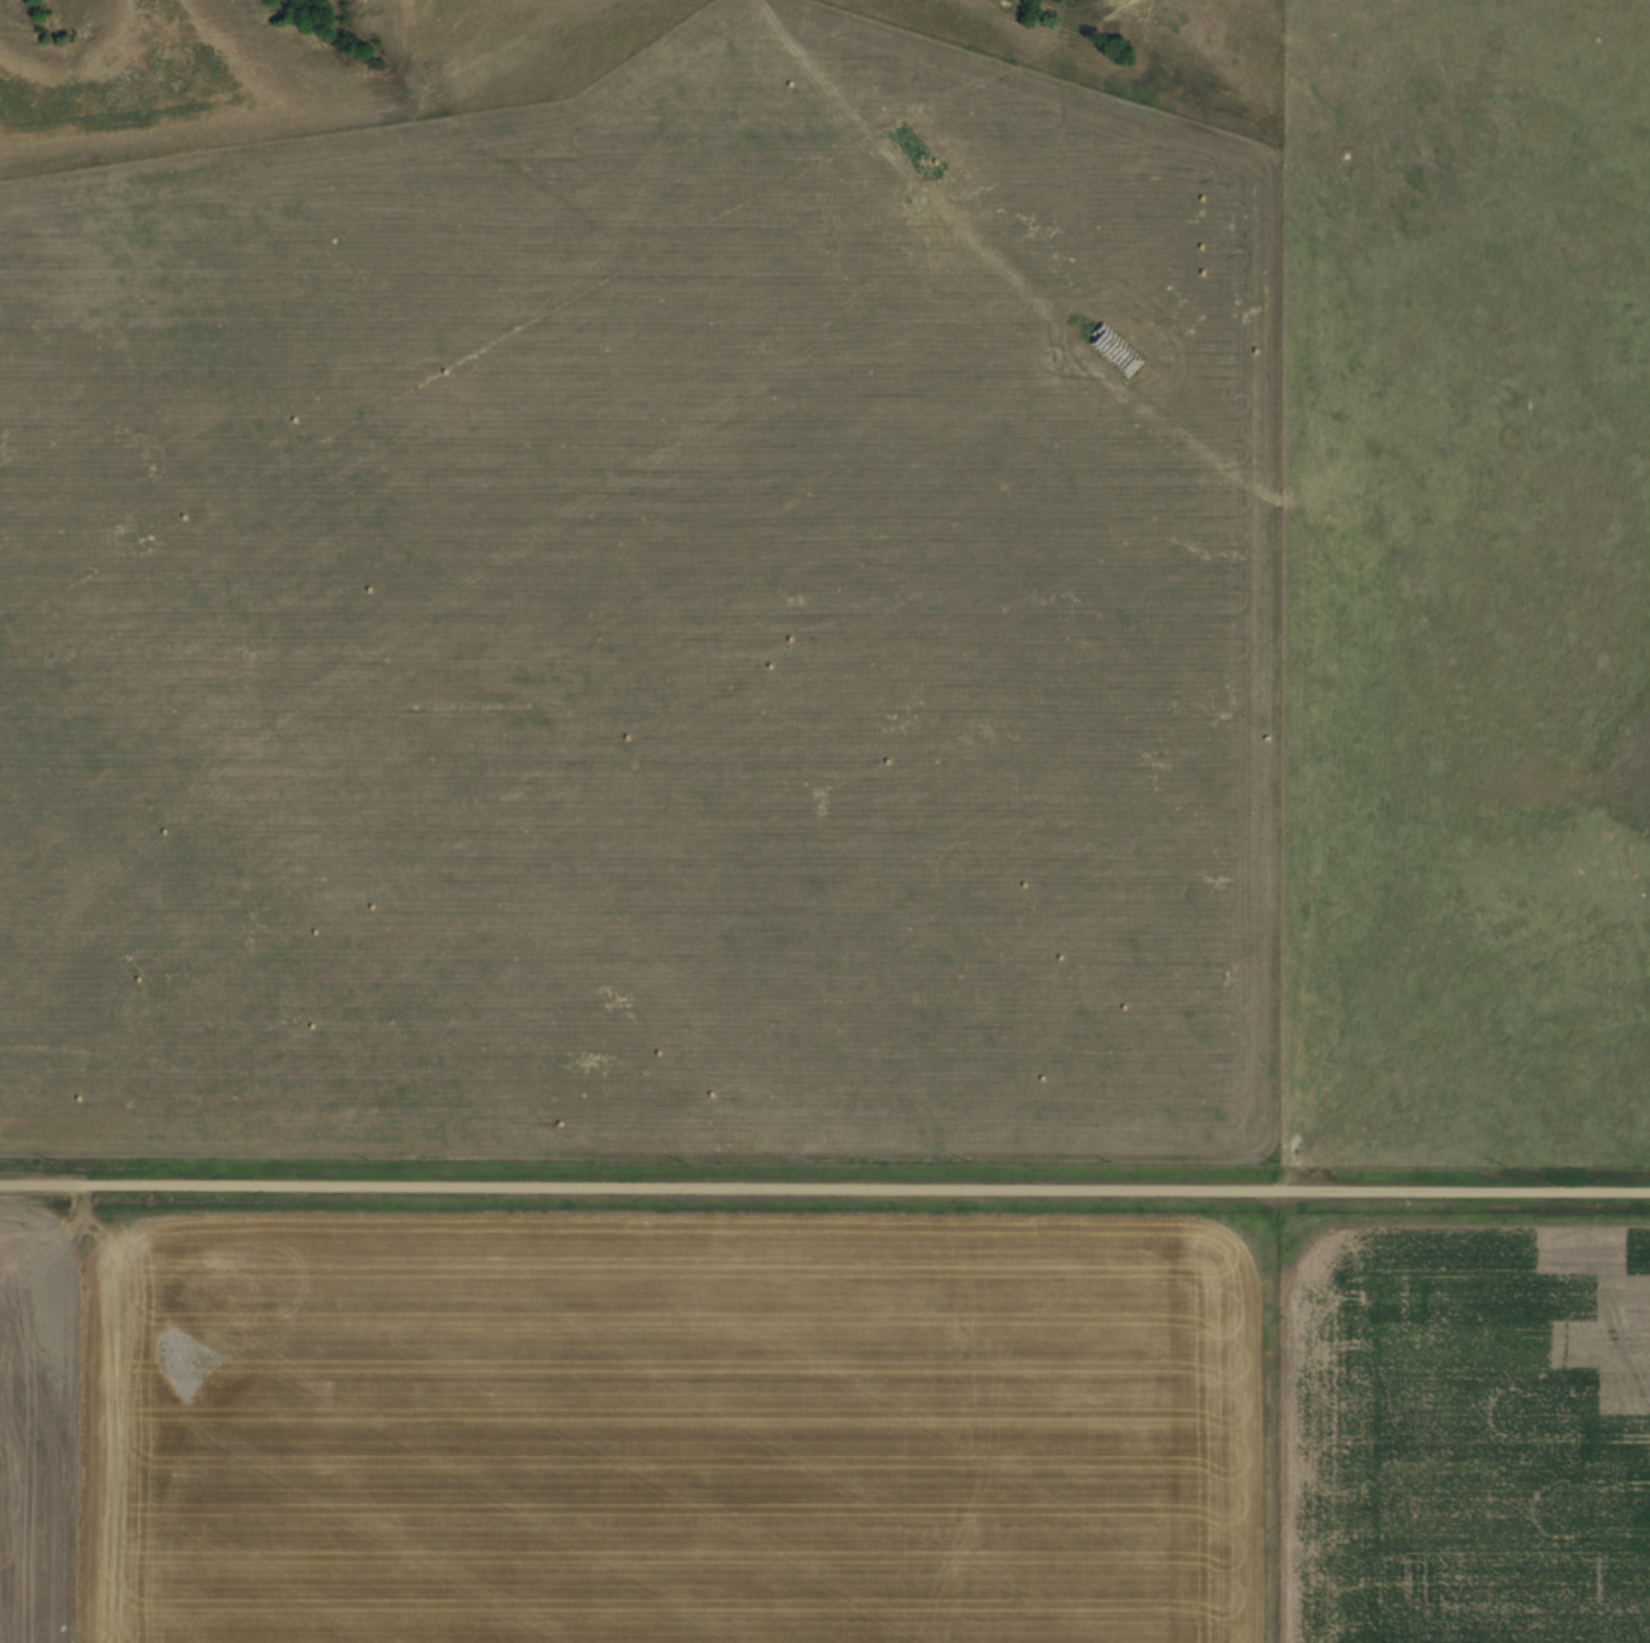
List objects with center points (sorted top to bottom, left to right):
road: (824, 1237)

